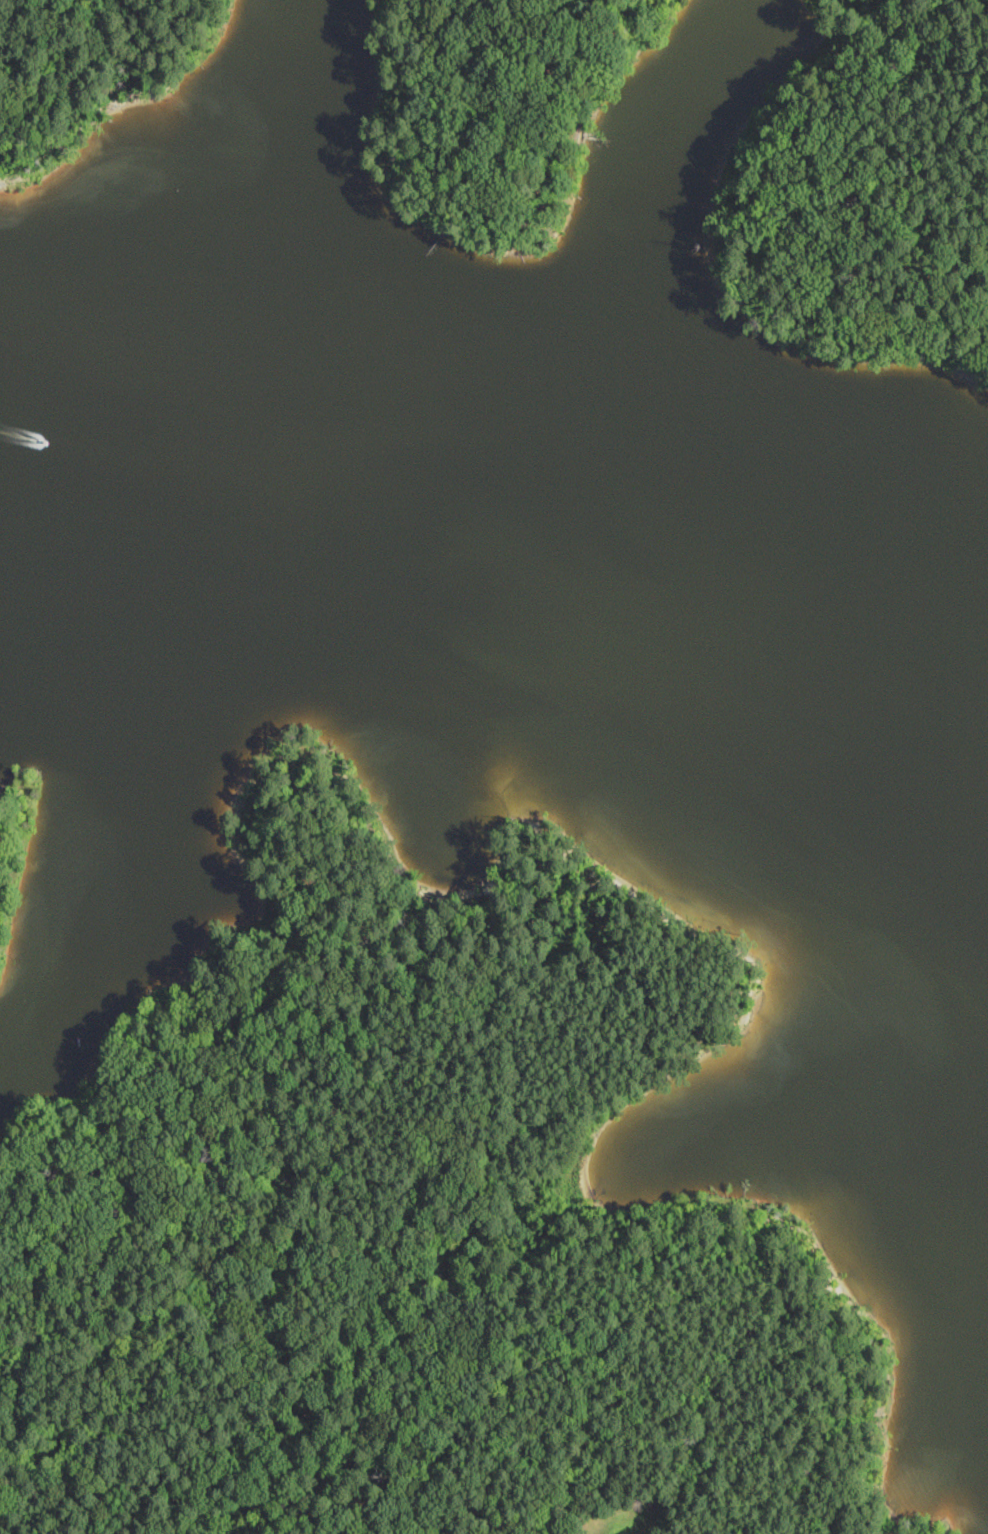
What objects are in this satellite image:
park: (94, 80)
park: (497, 113)
park: (864, 194)
river: (87, 495)
river: (292, 509)
river: (764, 659)
road: (345, 1351)

